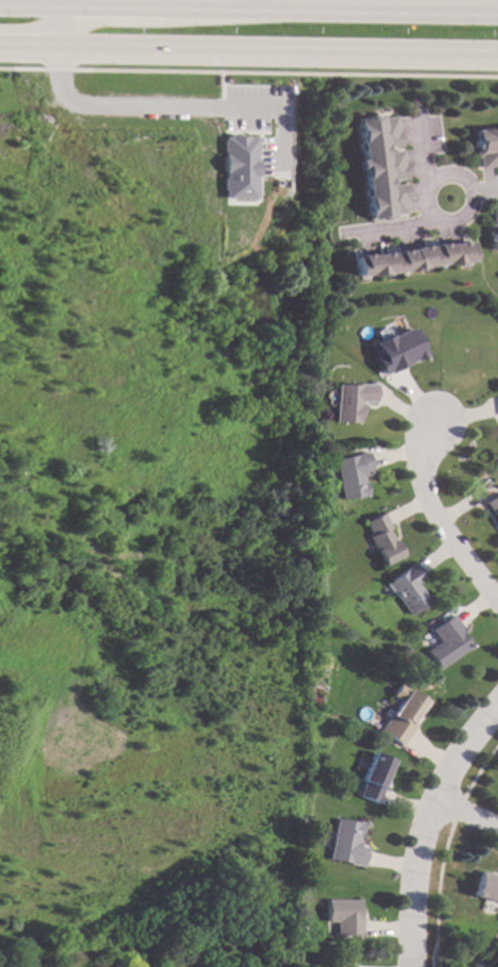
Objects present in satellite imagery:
road: (277, 4)
road: (379, 4)
road: (138, 6)
road: (387, 9)
road: (59, 26)
road: (248, 55)
road: (169, 106)
building: (485, 148)
road: (417, 151)
building: (378, 167)
building: (233, 168)
road: (441, 174)
road: (483, 191)
road: (382, 227)
building: (494, 228)
building: (409, 259)
building: (395, 351)
building: (350, 401)
building: (352, 475)
building: (493, 505)
building: (343, 509)
road: (443, 518)
building: (384, 538)
building: (409, 589)
building: (447, 642)
building: (324, 662)
building: (423, 679)
building: (400, 713)
building: (372, 778)
road: (470, 817)
road: (430, 837)
building: (346, 844)
building: (485, 889)
building: (343, 917)
building: (496, 964)

